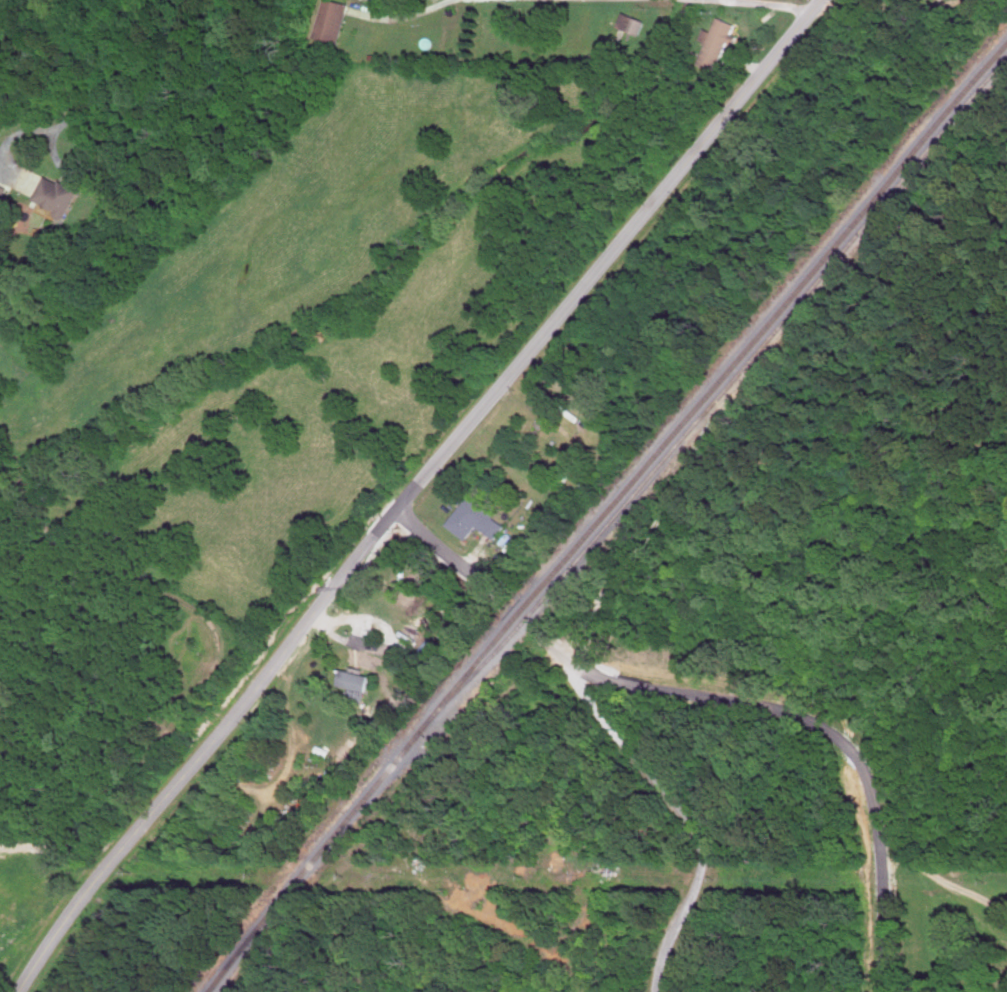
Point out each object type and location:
road: (654, 3)
road: (889, 8)
road: (401, 17)
building: (331, 20)
building: (633, 22)
building: (719, 41)
road: (66, 49)
road: (68, 169)
building: (2, 191)
building: (58, 195)
railway: (726, 387)
road: (411, 489)
railway: (605, 515)
building: (474, 518)
road: (446, 558)
road: (388, 634)
building: (425, 654)
building: (352, 677)
road: (828, 732)
road: (666, 797)
road: (921, 864)

